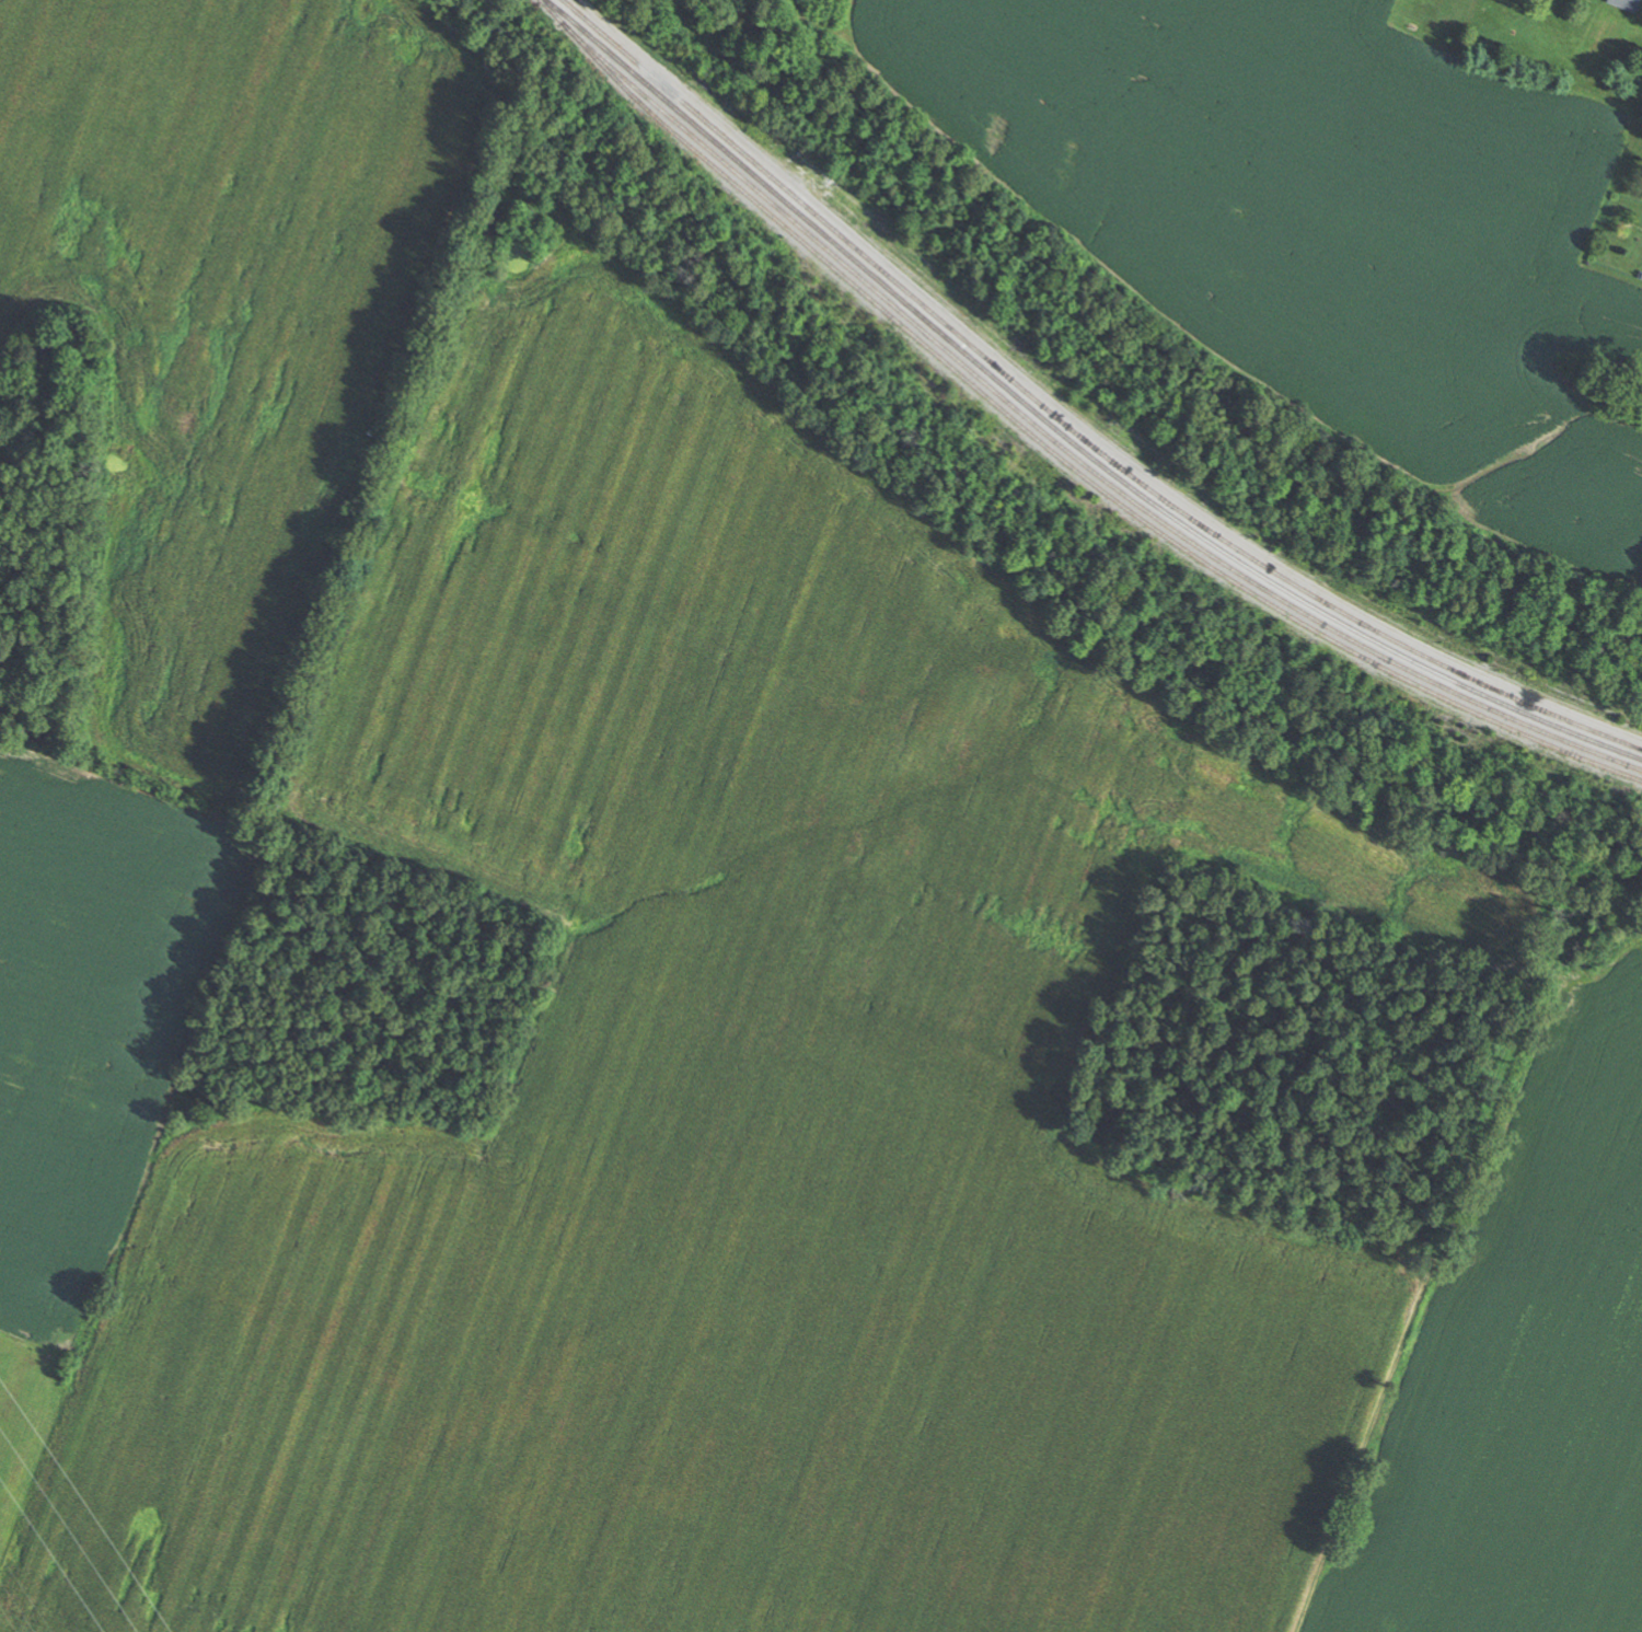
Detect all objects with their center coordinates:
building: (1628, 4)
railway: (1071, 420)
railway: (1062, 427)
railway: (1053, 444)
railway: (1068, 444)
railway: (1087, 588)

